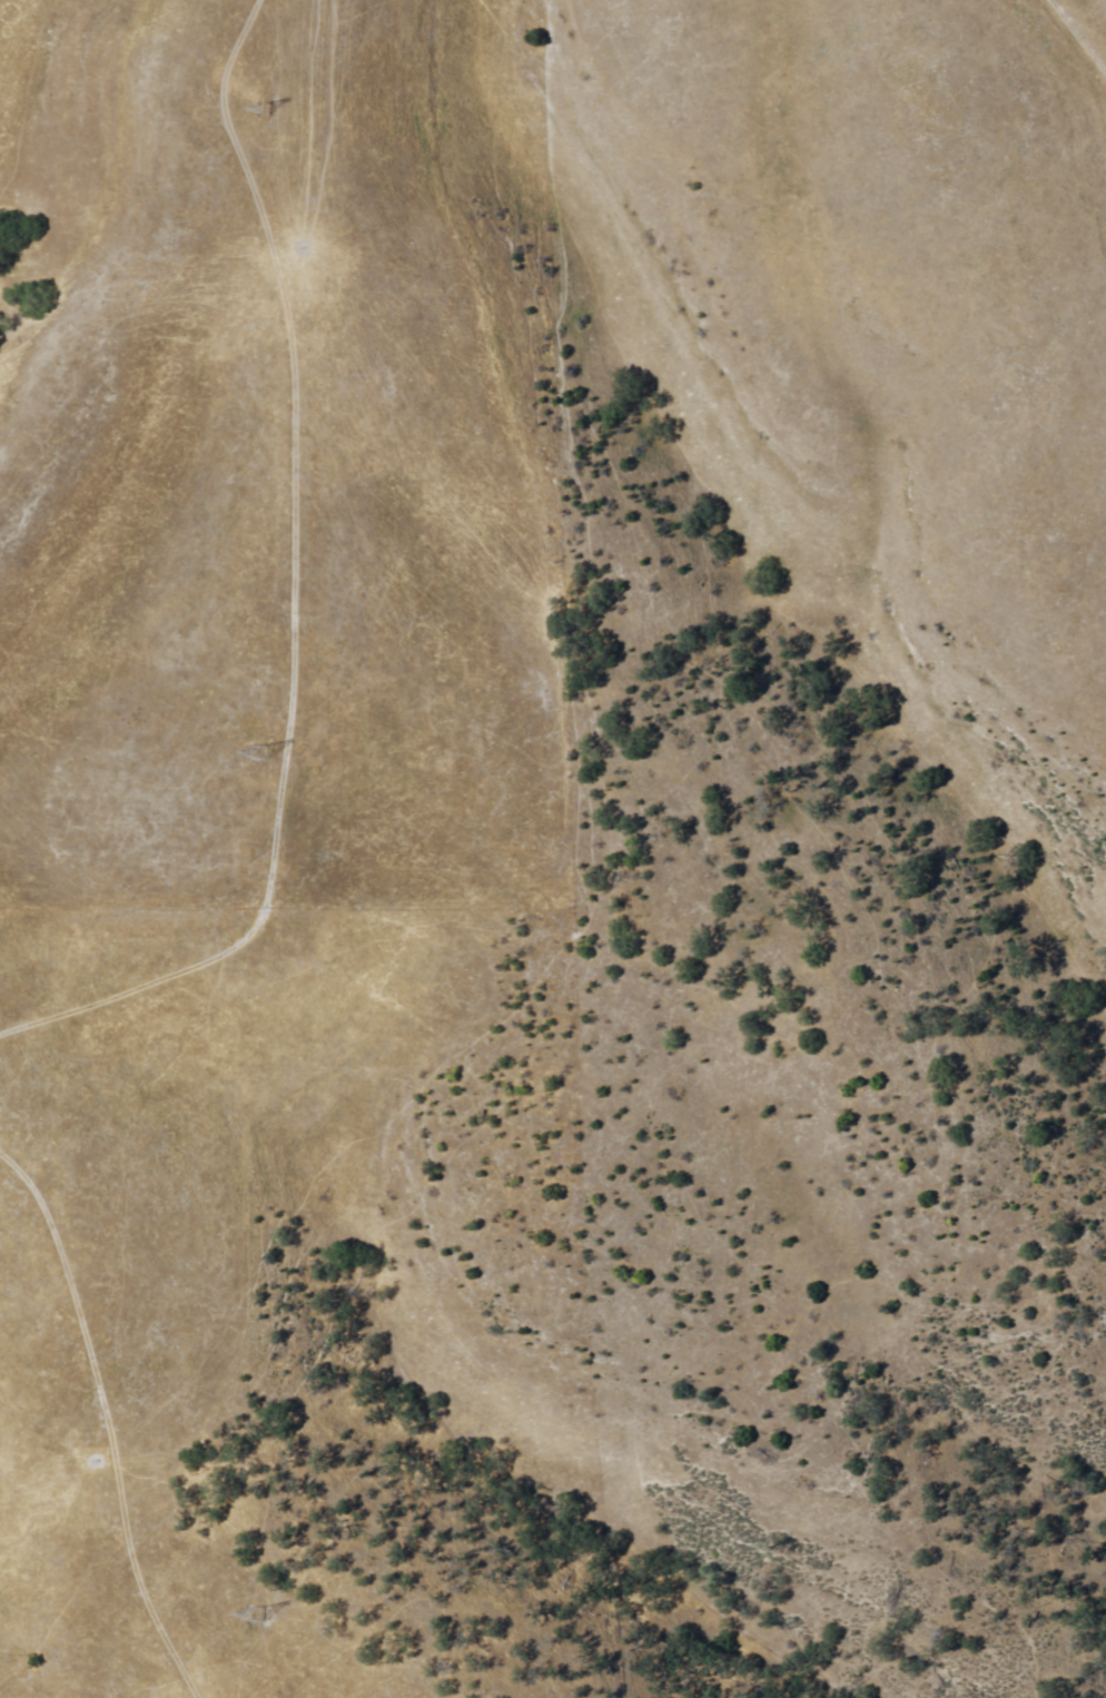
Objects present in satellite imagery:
road: (1096, 18)

